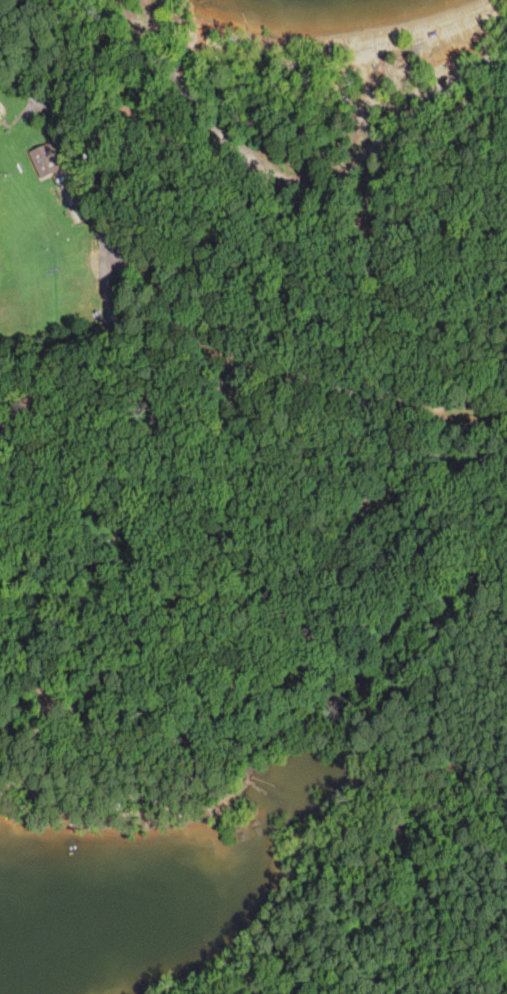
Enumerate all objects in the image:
building: (46, 159)
road: (282, 175)
road: (330, 282)
road: (176, 294)
road: (83, 337)
park: (261, 469)
road: (111, 576)
road: (272, 658)

